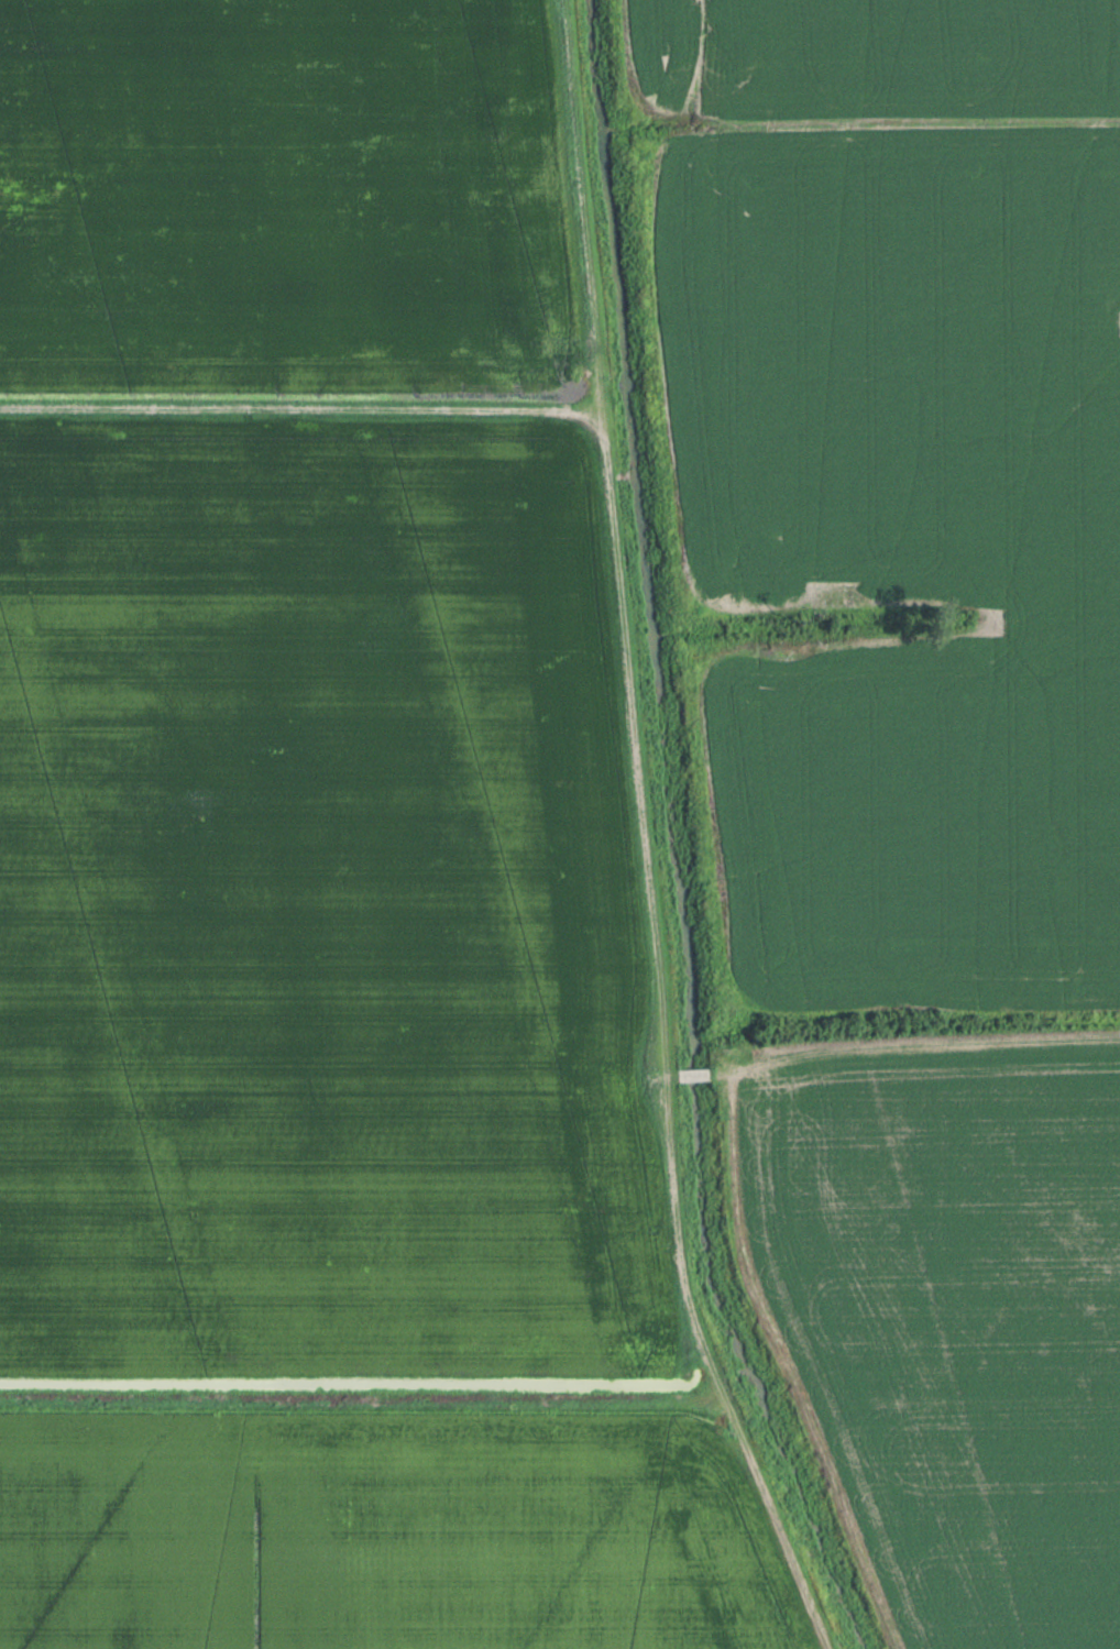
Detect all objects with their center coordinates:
road: (647, 836)

